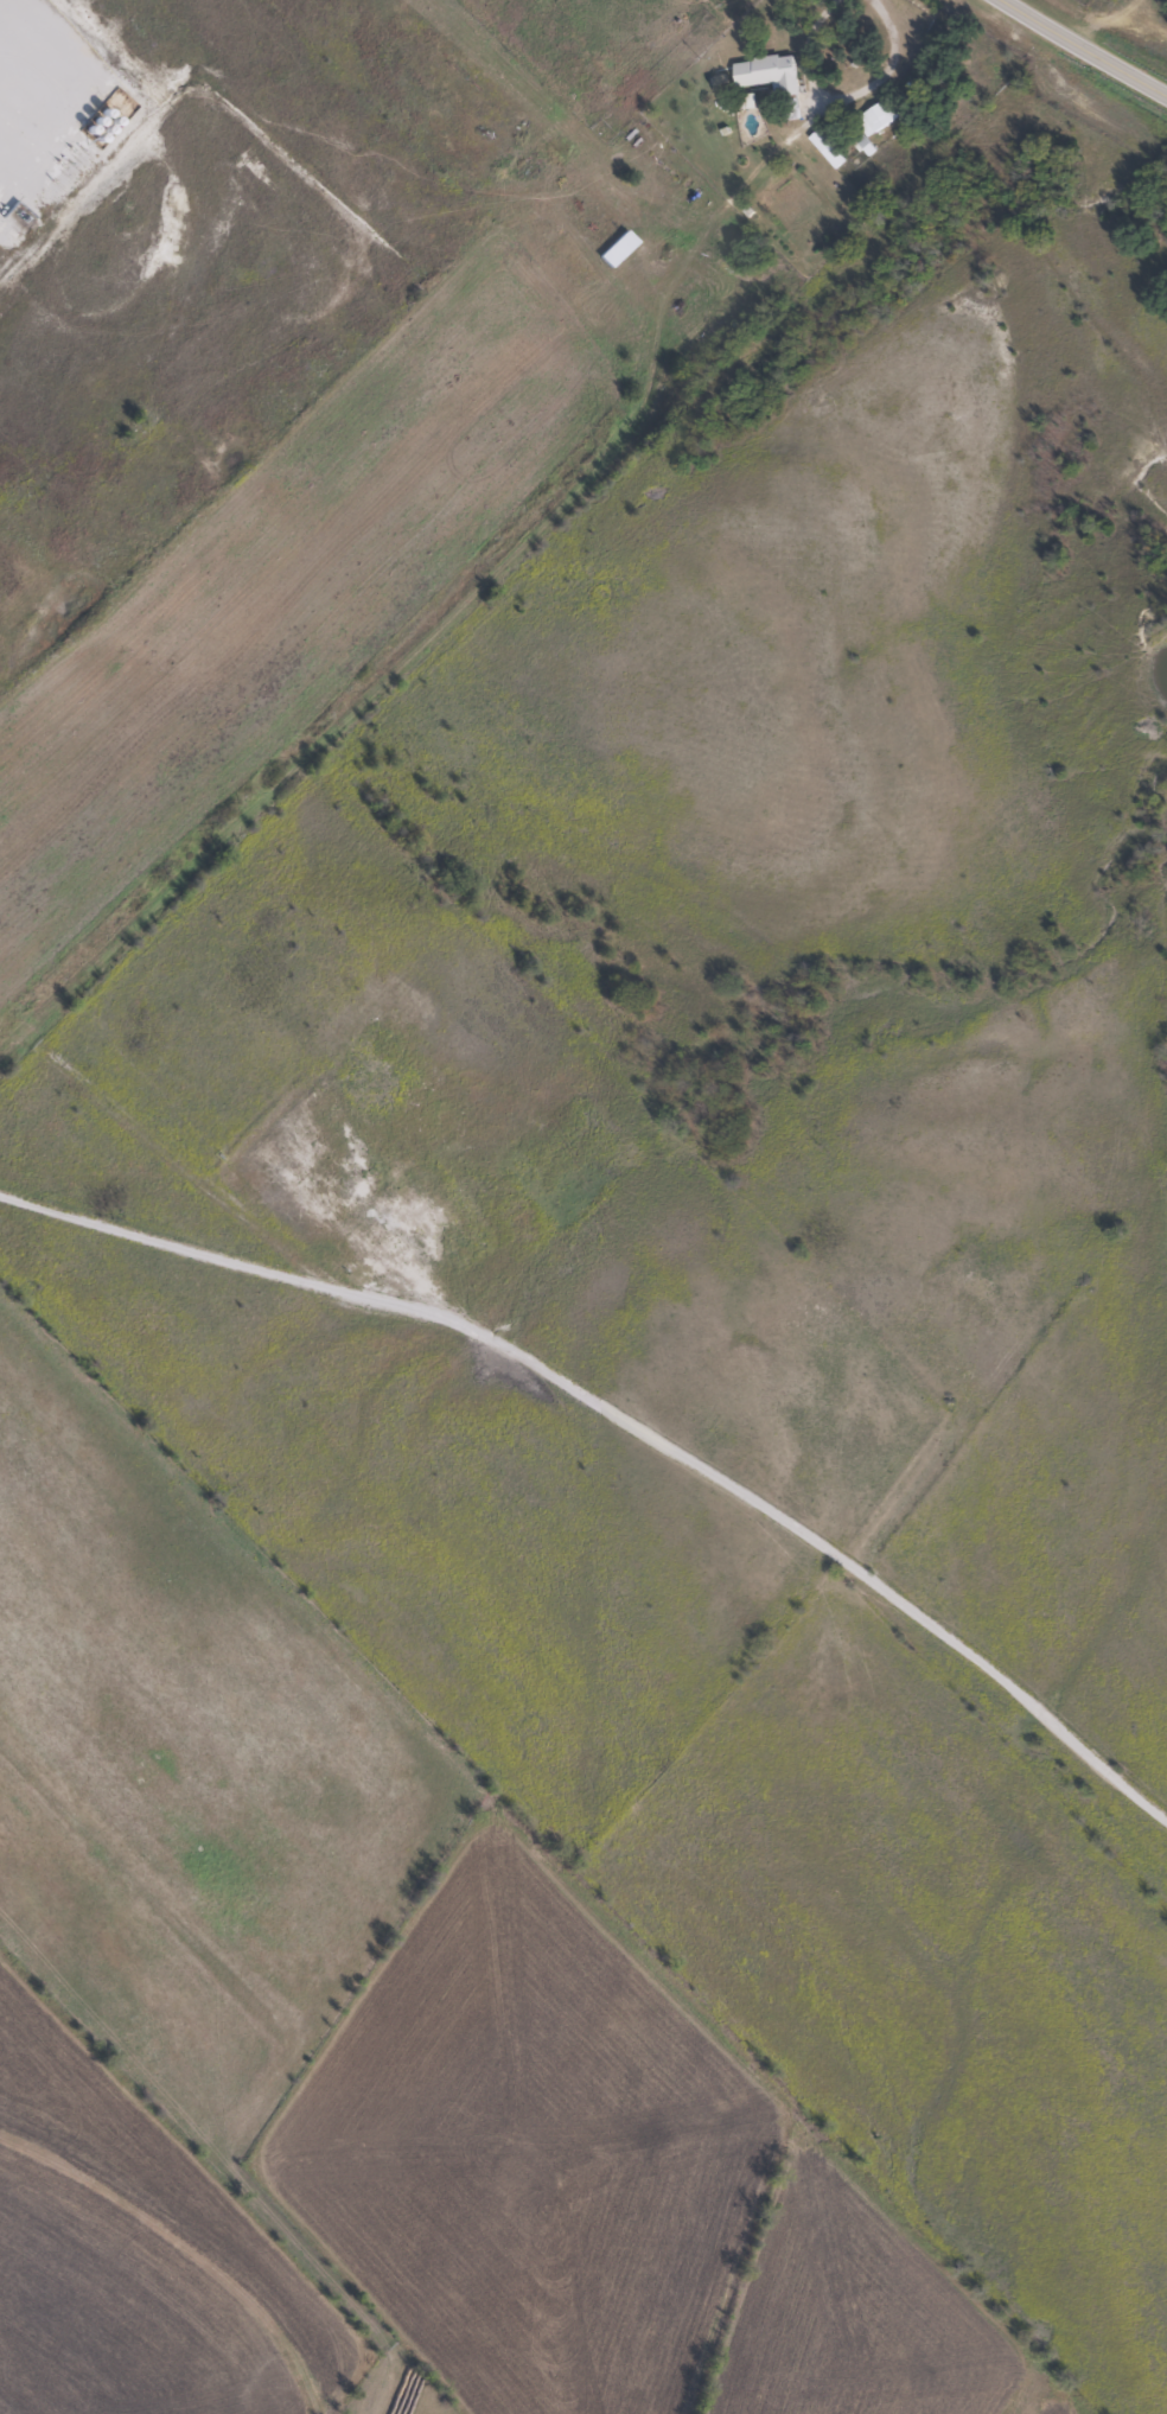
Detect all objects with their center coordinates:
building: (703, 0)
road: (1082, 47)
building: (771, 75)
building: (884, 115)
building: (827, 149)
road: (629, 1415)

